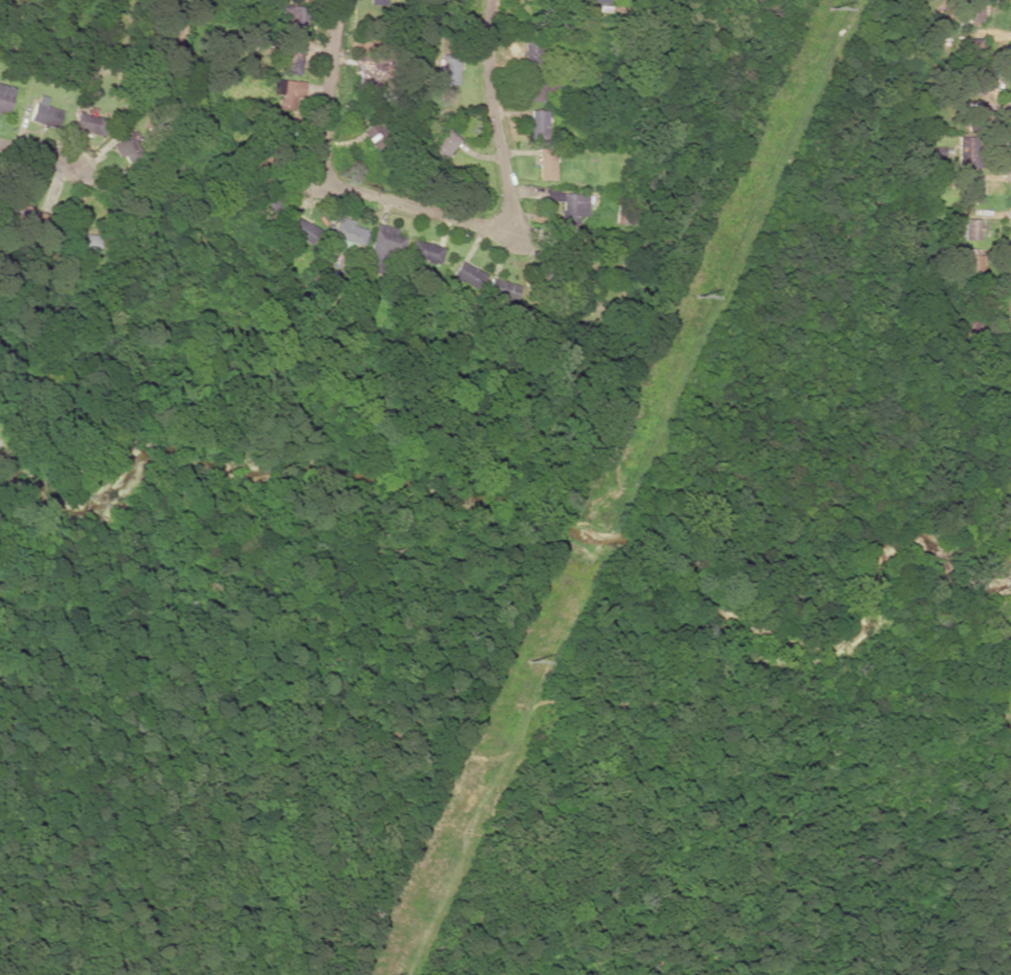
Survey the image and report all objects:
building: (596, 1)
power tower: (828, 11)
building: (972, 13)
building: (292, 21)
building: (451, 72)
building: (538, 87)
building: (291, 94)
building: (5, 97)
building: (45, 115)
building: (91, 124)
building: (538, 125)
building: (372, 132)
building: (126, 145)
building: (442, 146)
road: (35, 156)
building: (546, 164)
building: (571, 206)
road: (436, 215)
building: (301, 229)
building: (972, 229)
building: (347, 235)
building: (383, 245)
building: (573, 249)
building: (425, 251)
building: (971, 265)
building: (468, 276)
building: (503, 289)
power tower: (696, 297)
power tower: (527, 662)

